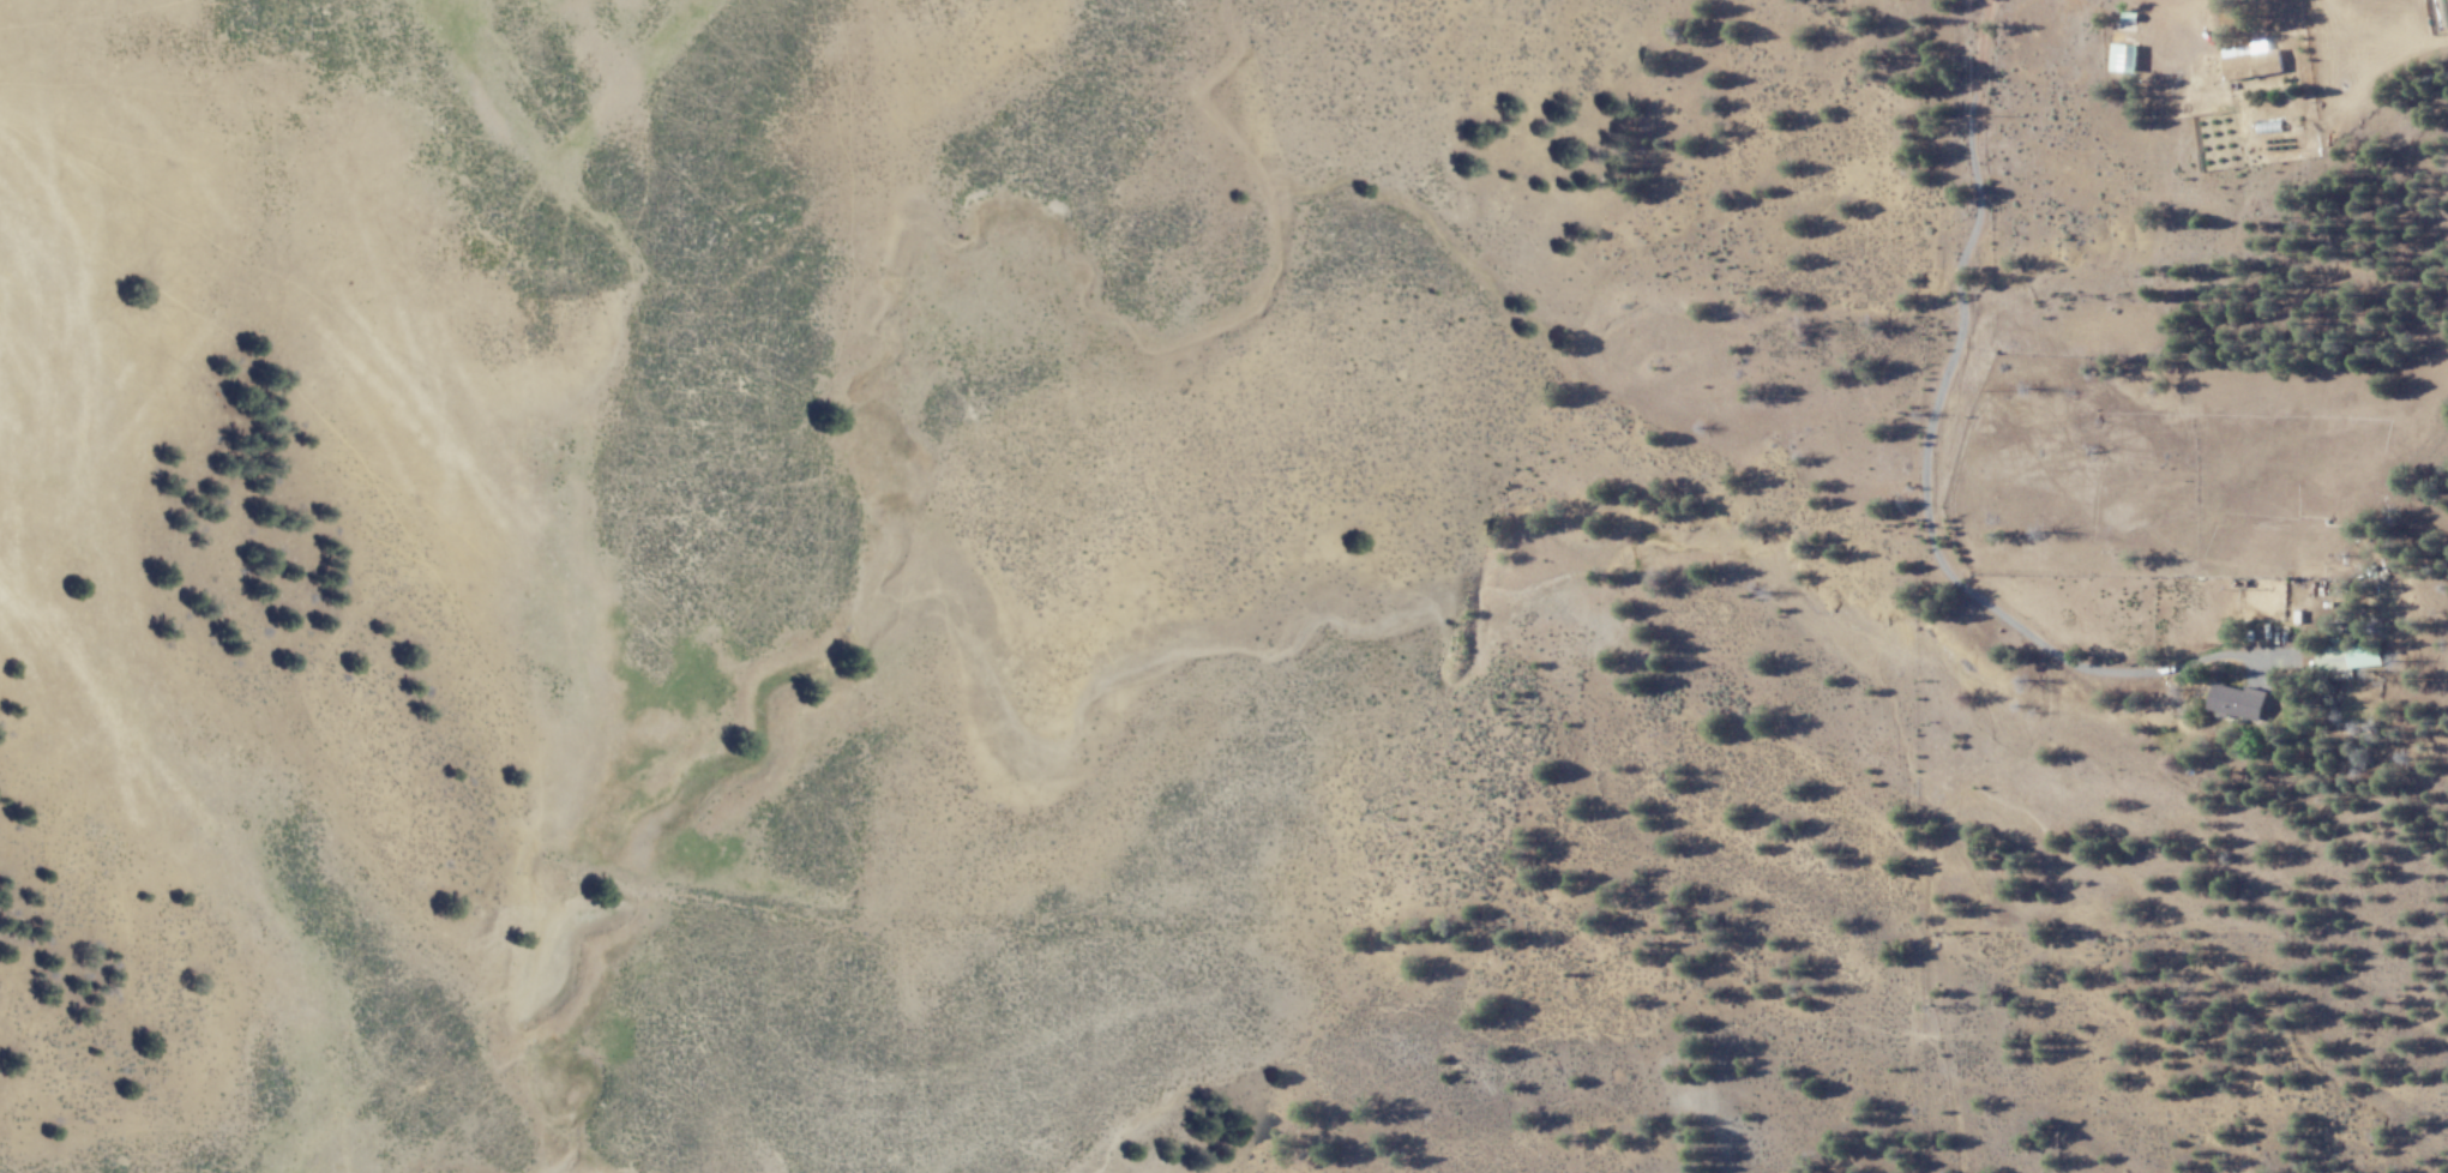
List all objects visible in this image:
building: (2124, 59)
building: (2251, 62)
building: (2352, 658)
building: (2237, 703)

